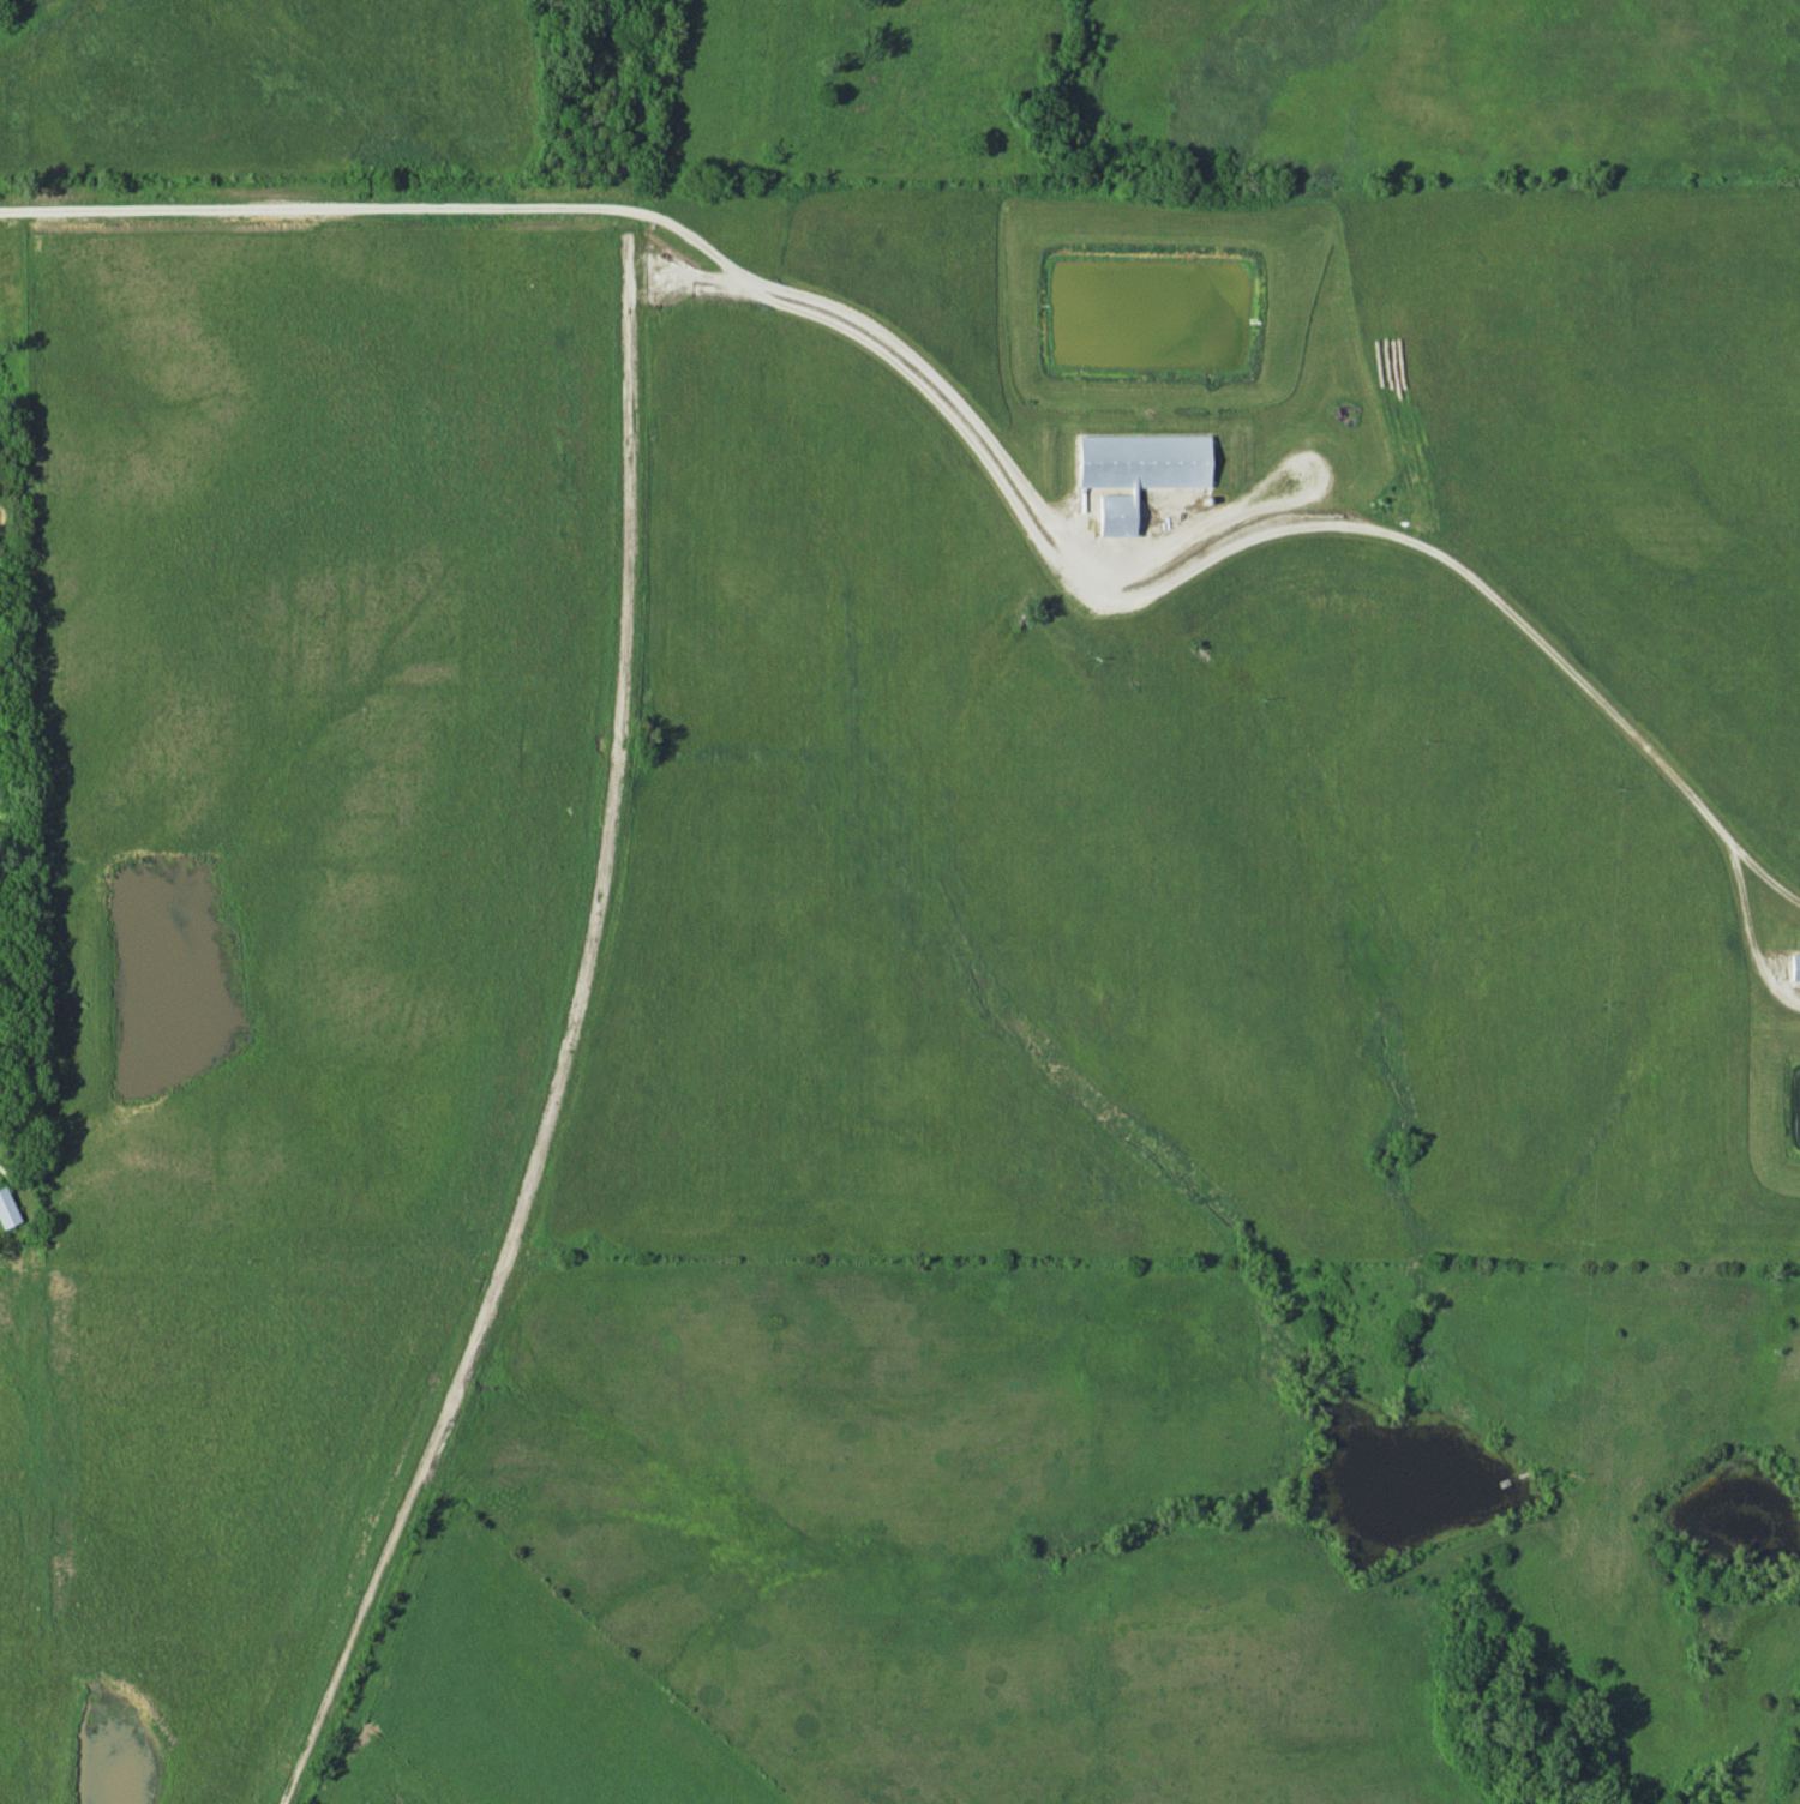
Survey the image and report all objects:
building: (1146, 459)
road: (595, 927)
building: (1798, 967)
building: (7, 1208)

